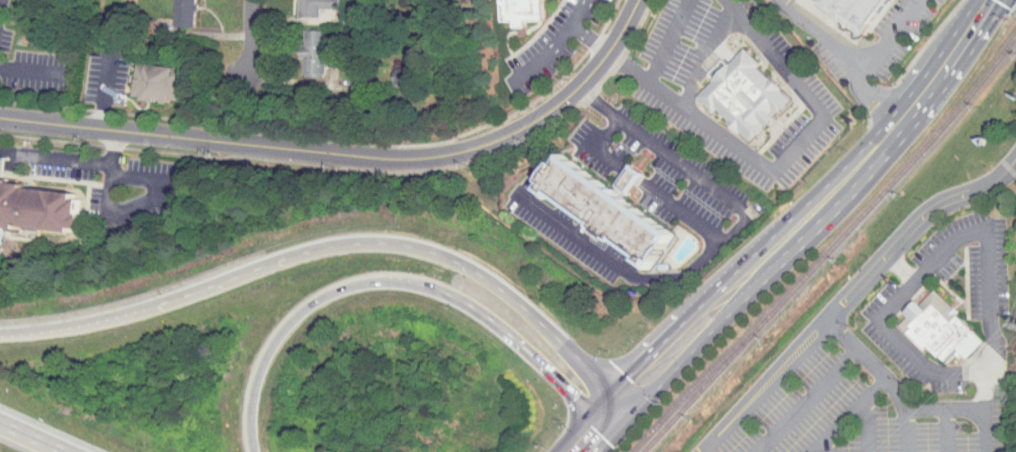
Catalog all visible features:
building: (300, 4)
building: (173, 10)
building: (522, 10)
building: (859, 11)
road: (580, 12)
road: (249, 38)
road: (888, 38)
road: (558, 41)
road: (669, 41)
building: (301, 48)
road: (843, 54)
road: (706, 56)
building: (389, 68)
road: (30, 69)
building: (154, 82)
road: (105, 90)
building: (745, 97)
road: (350, 151)
road: (73, 157)
road: (779, 161)
building: (614, 175)
road: (642, 183)
road: (159, 195)
building: (38, 207)
building: (606, 210)
road: (807, 213)
road: (911, 226)
road: (723, 237)
railway: (833, 246)
road: (331, 249)
road: (932, 260)
road: (898, 268)
road: (393, 283)
building: (933, 327)
road: (868, 362)
traffic signals: (634, 383)
road: (757, 383)
railway: (691, 389)
road: (767, 390)
railway: (699, 391)
traffic signals: (577, 394)
road: (804, 400)
road: (944, 409)
road: (984, 411)
road: (847, 415)
road: (865, 425)
traffic signals: (592, 426)
road: (588, 429)
road: (905, 430)
road: (947, 430)
road: (32, 437)
road: (828, 443)

